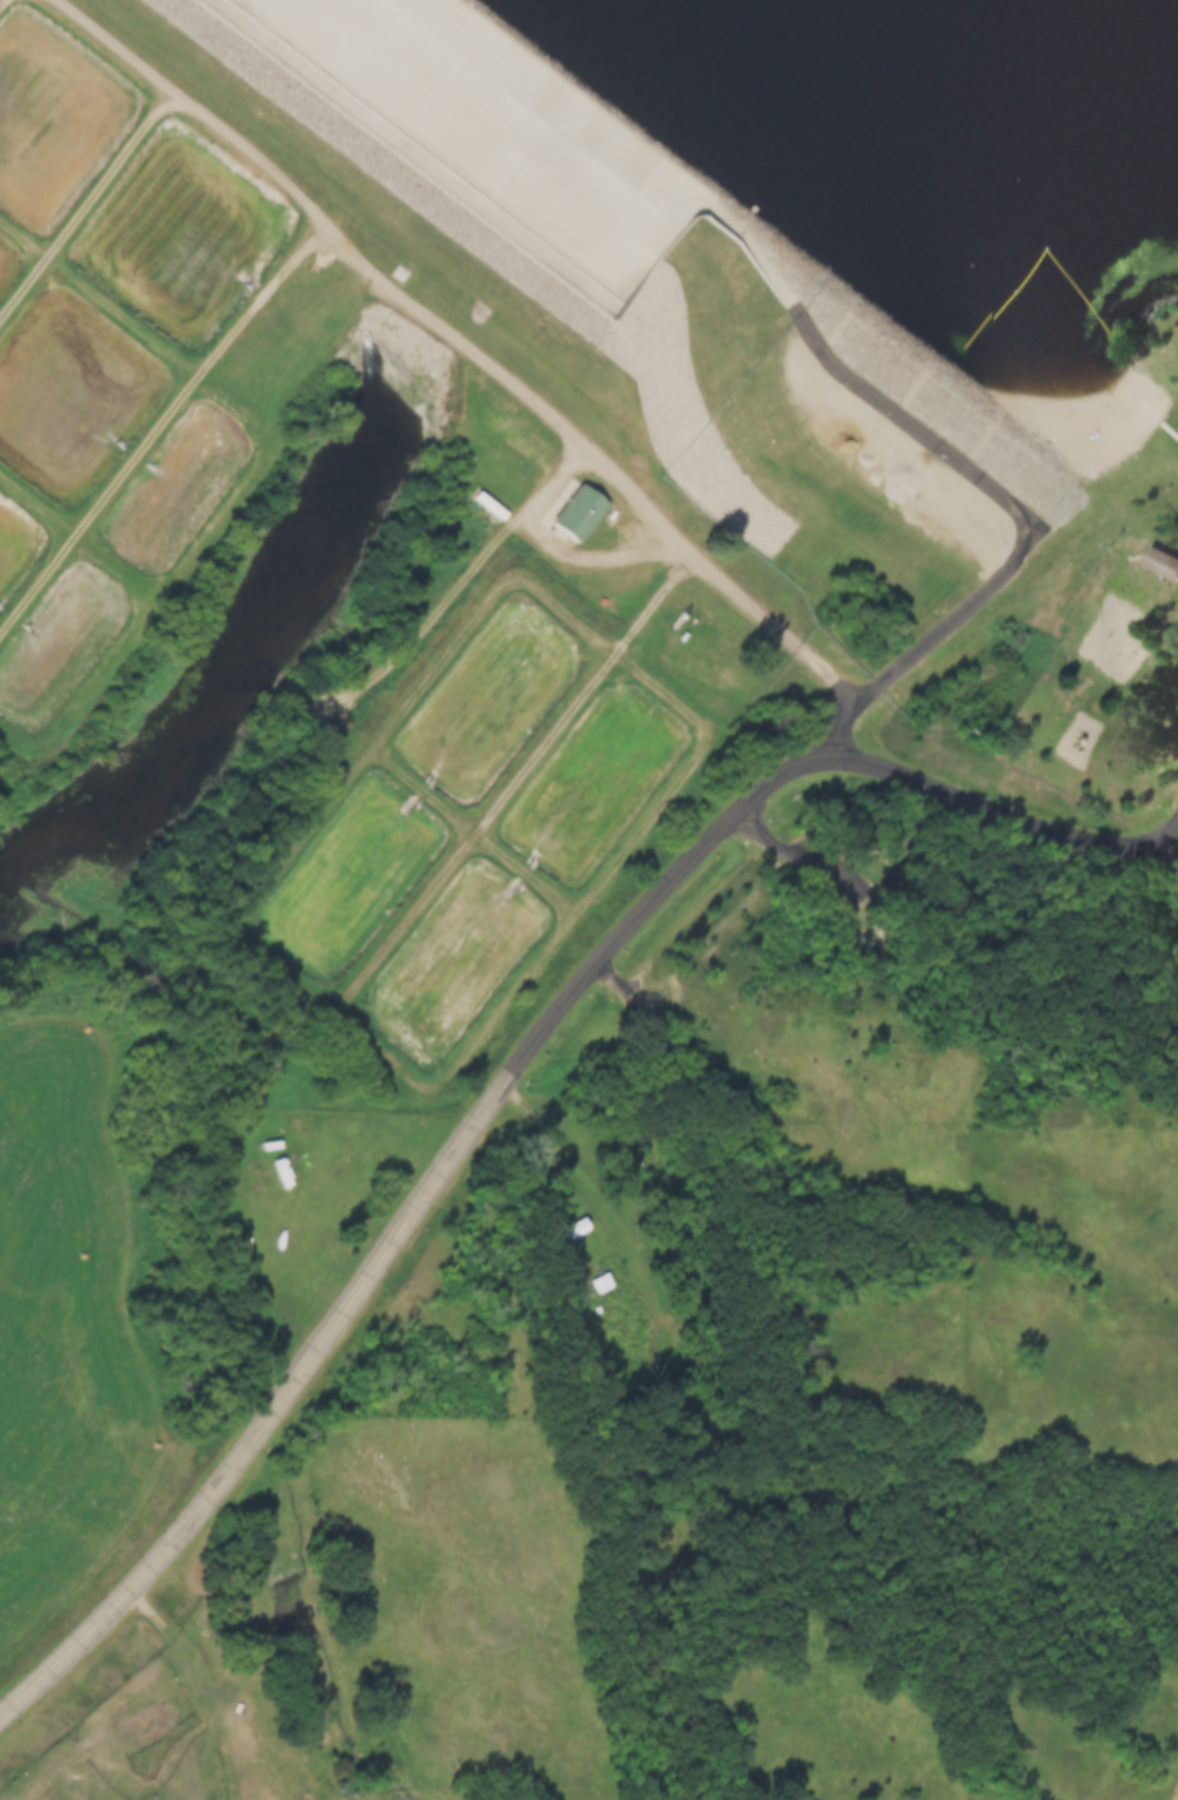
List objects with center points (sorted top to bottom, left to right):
dam: (656, 282)
road: (456, 351)
building: (581, 512)
building: (1162, 561)
road: (926, 653)
road: (512, 1079)
building: (577, 1228)
building: (603, 1283)

